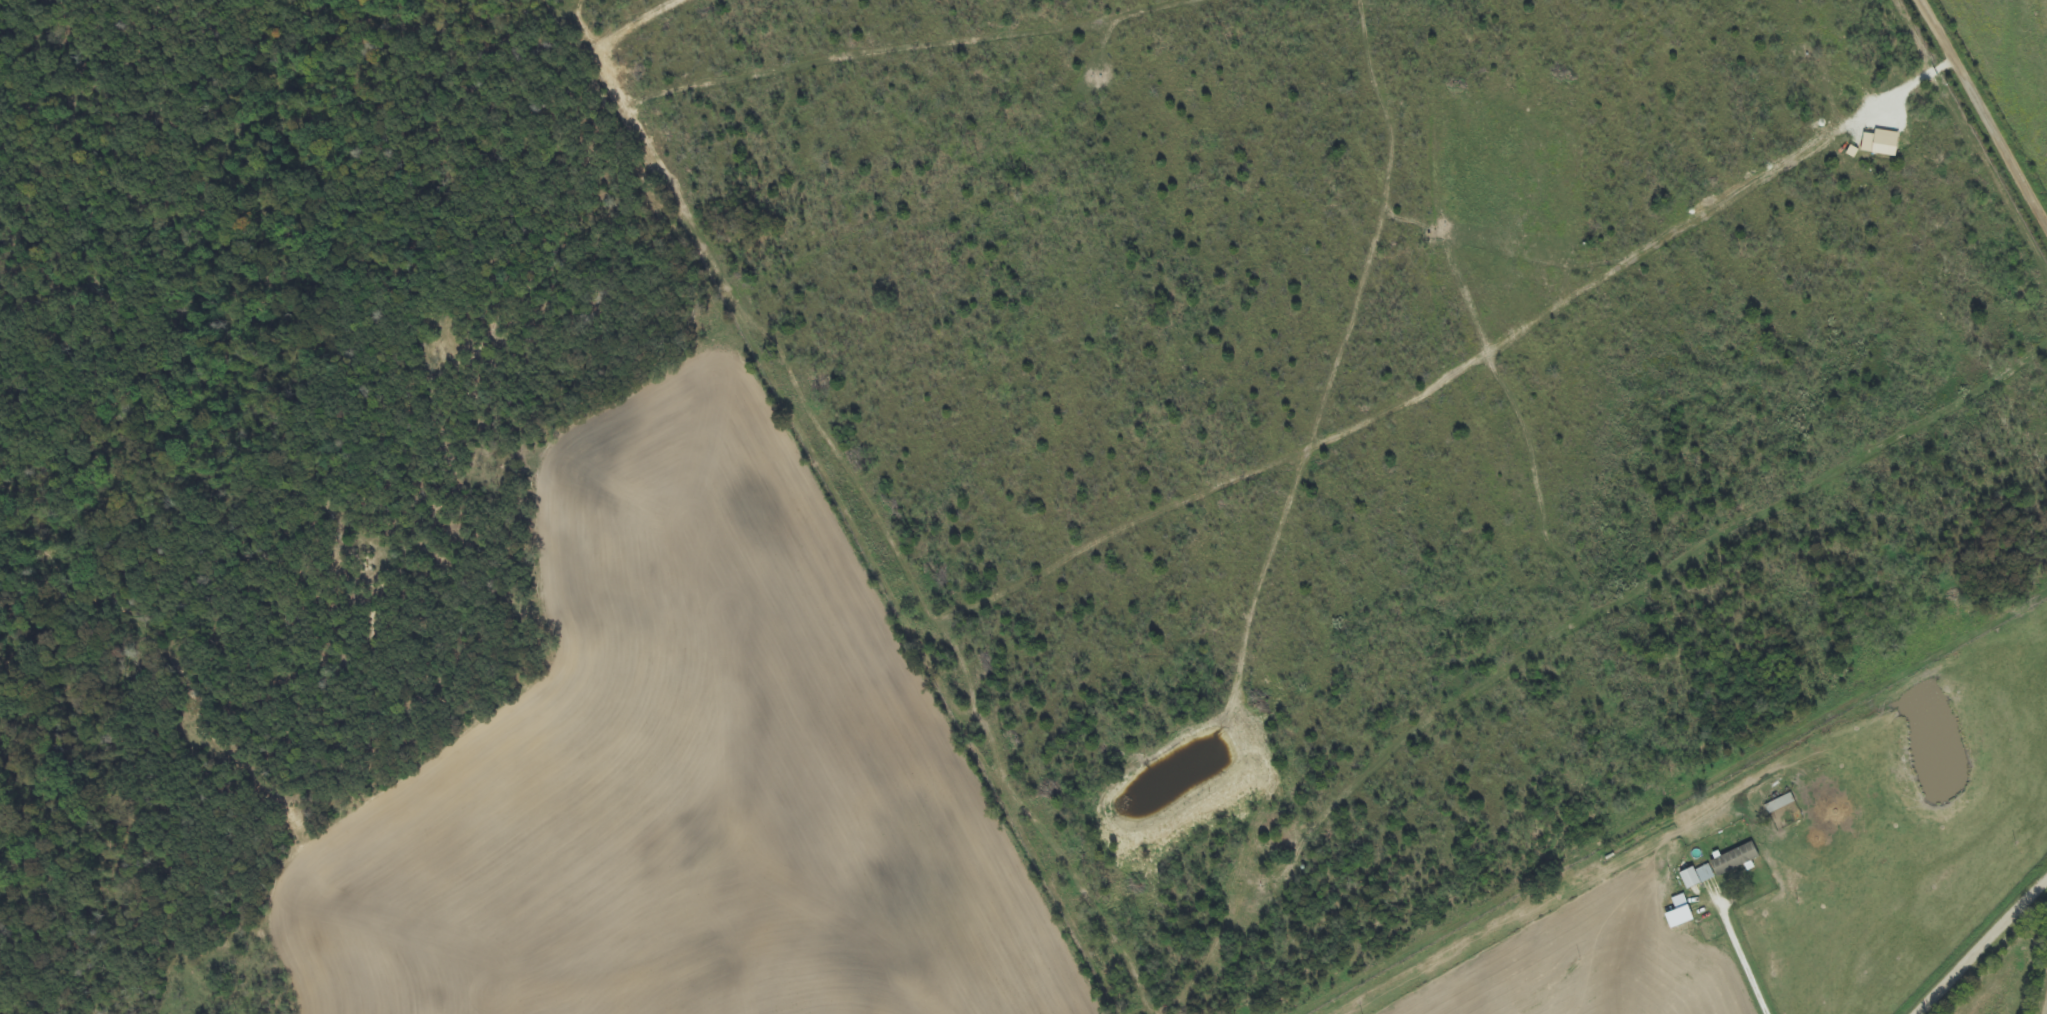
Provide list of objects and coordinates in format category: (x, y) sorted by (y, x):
road: (1986, 108)
building: (1884, 143)
building: (1737, 860)
building: (1700, 877)
road: (1985, 952)

